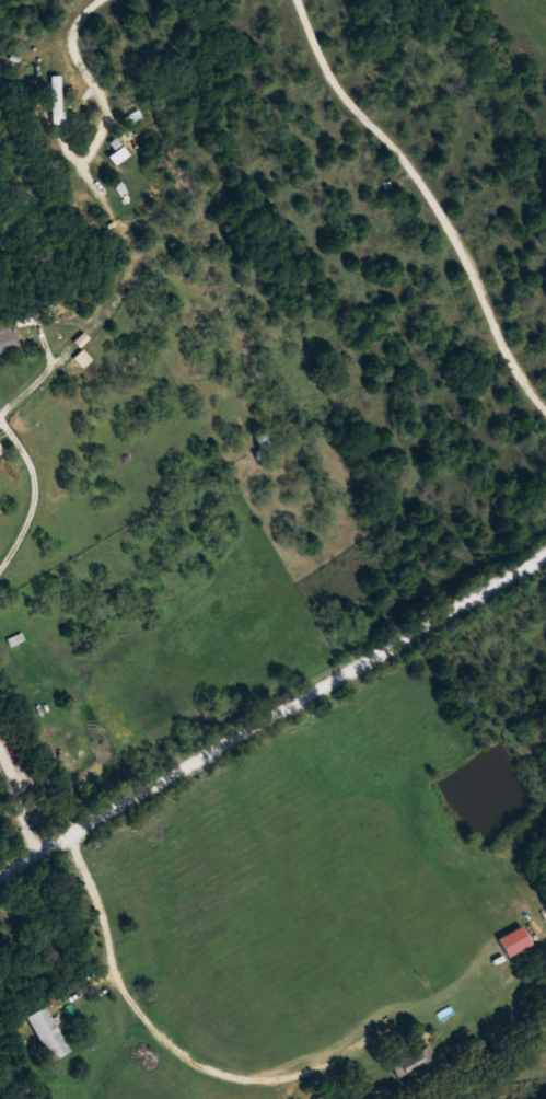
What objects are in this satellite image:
building: (57, 97)
building: (119, 154)
building: (0, 449)
road: (272, 719)
building: (5, 782)
building: (416, 1061)

